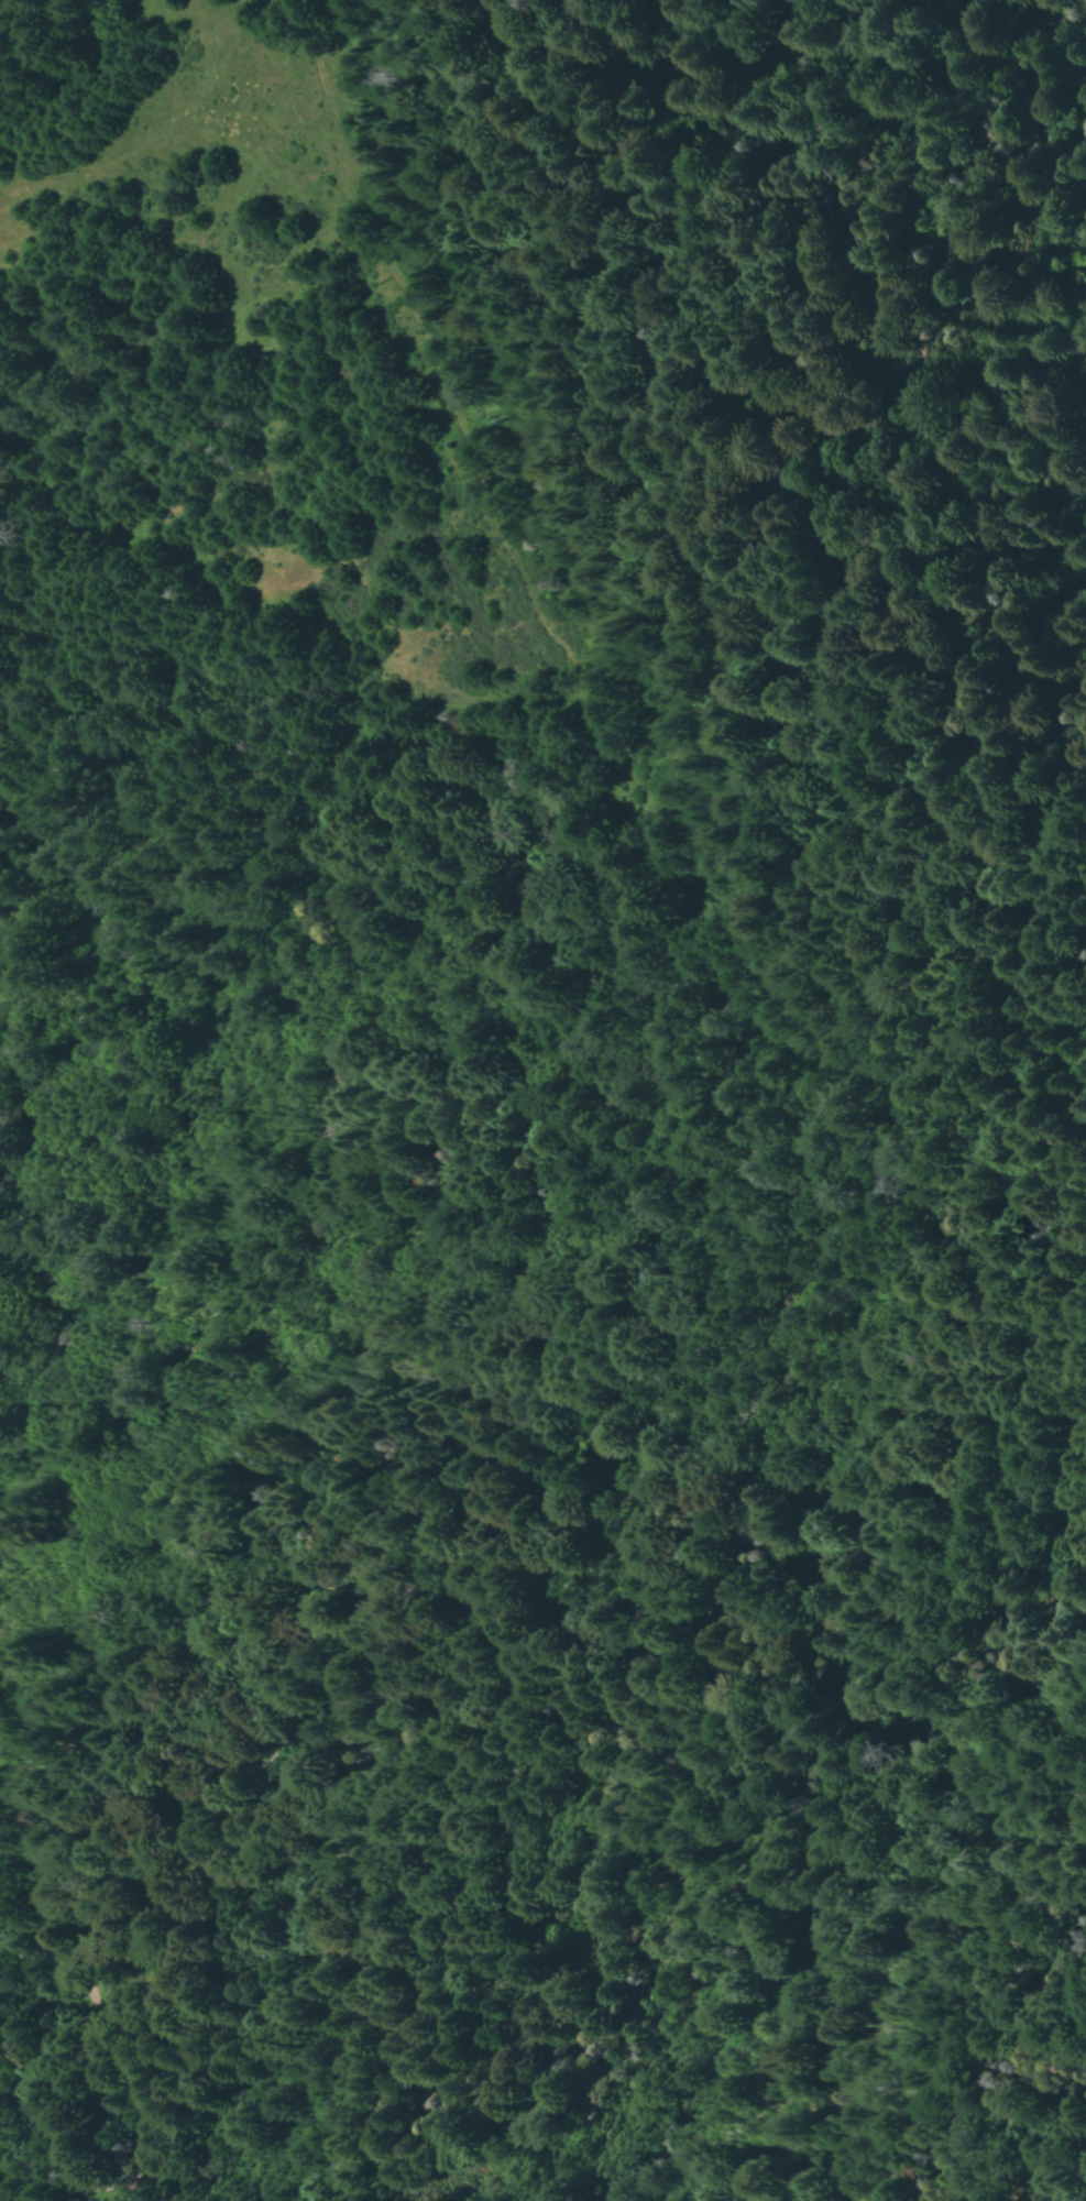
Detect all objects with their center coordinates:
road: (171, 138)
road: (535, 594)
road: (577, 600)
road: (1031, 1034)
road: (467, 1621)

